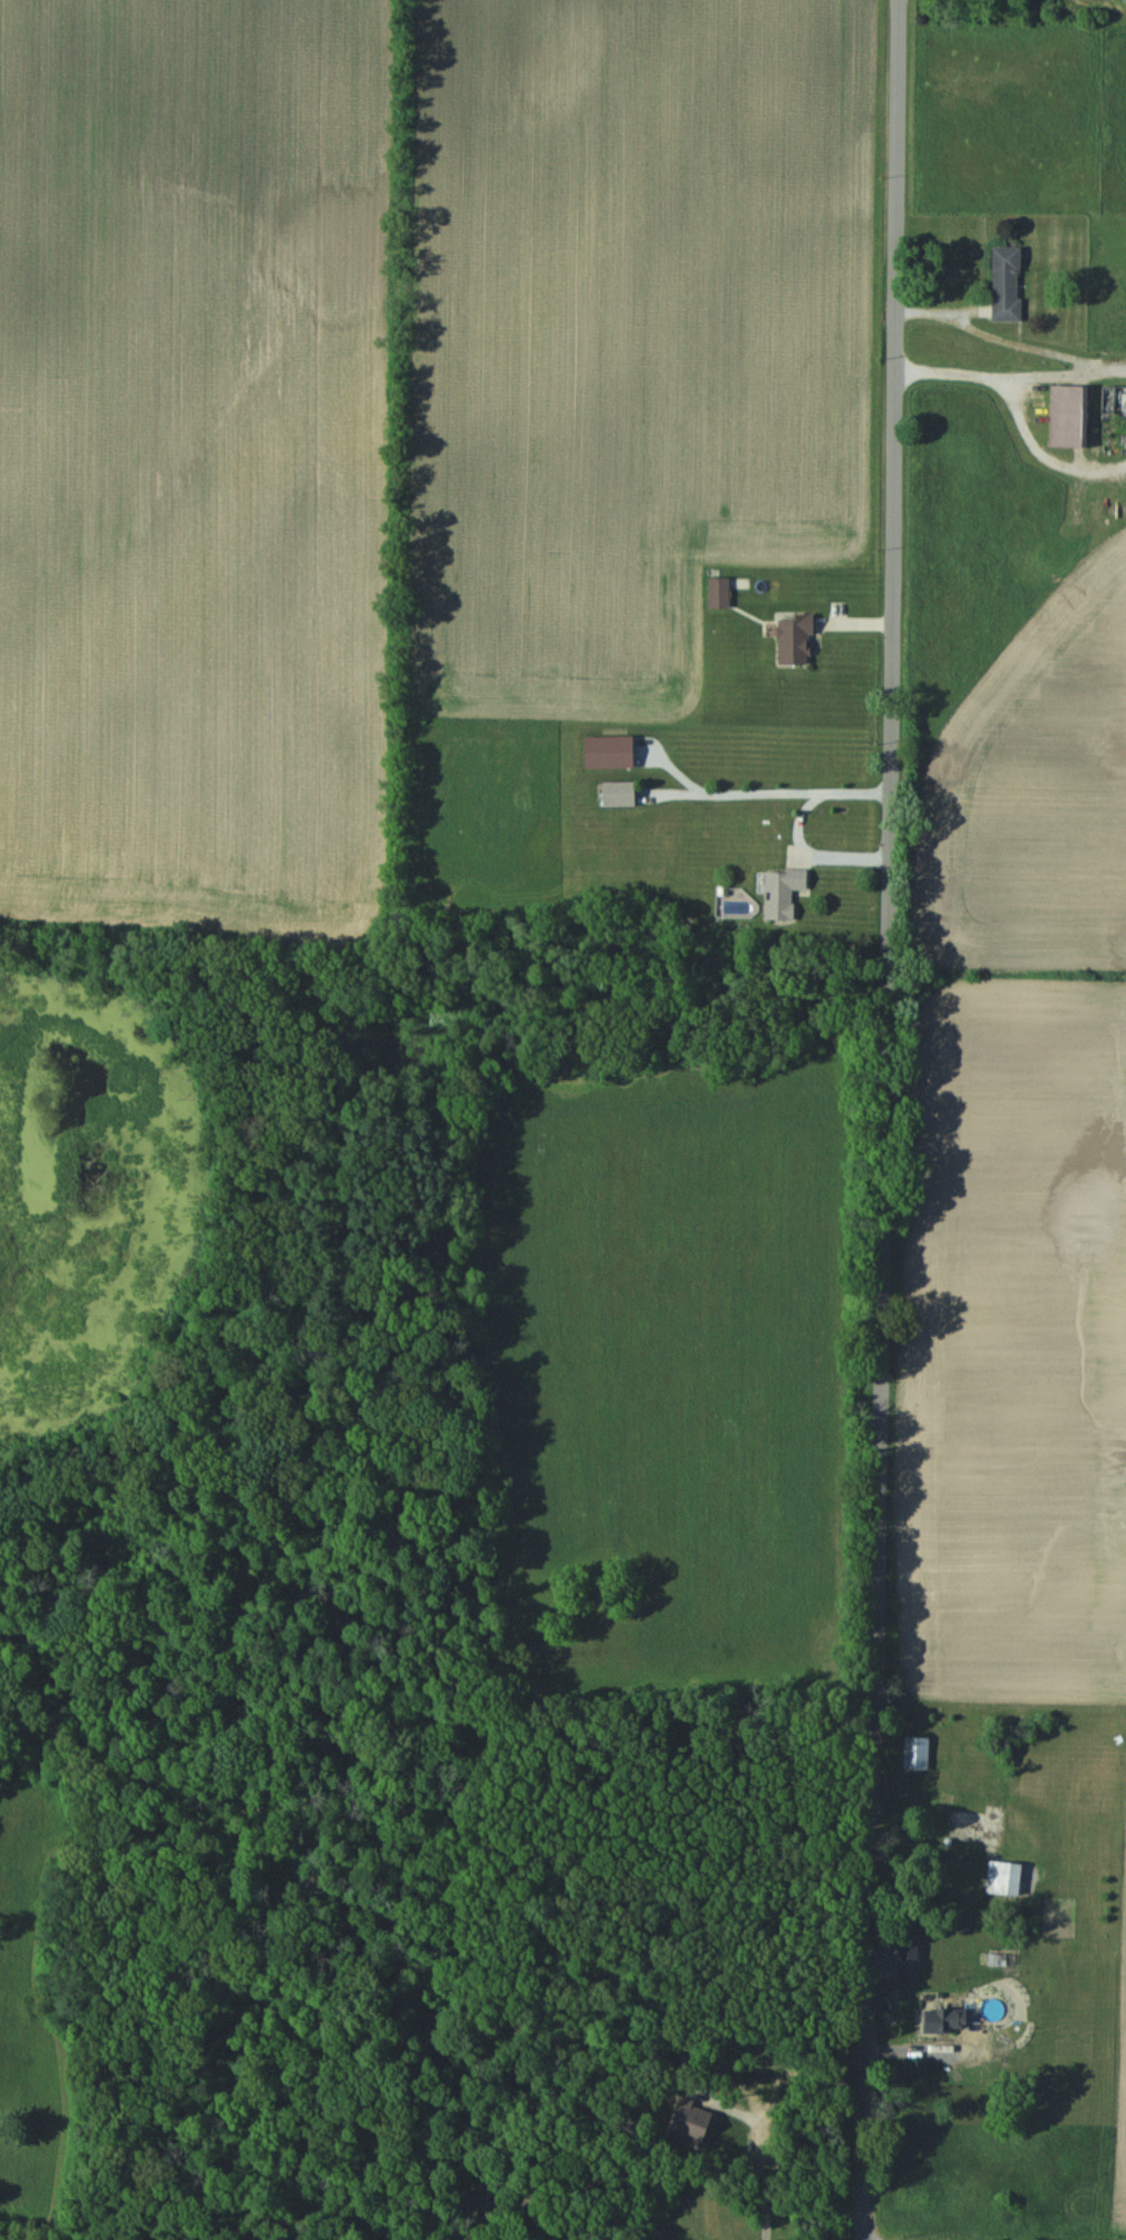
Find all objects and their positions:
building: (1001, 281)
road: (1002, 325)
road: (1066, 363)
road: (953, 364)
building: (1108, 399)
building: (1063, 414)
road: (1044, 441)
building: (714, 596)
building: (788, 638)
road: (736, 791)
building: (610, 792)
road: (795, 824)
building: (777, 891)
road: (889, 1119)
building: (912, 1753)
building: (999, 1877)
building: (903, 1961)
road: (766, 2205)

